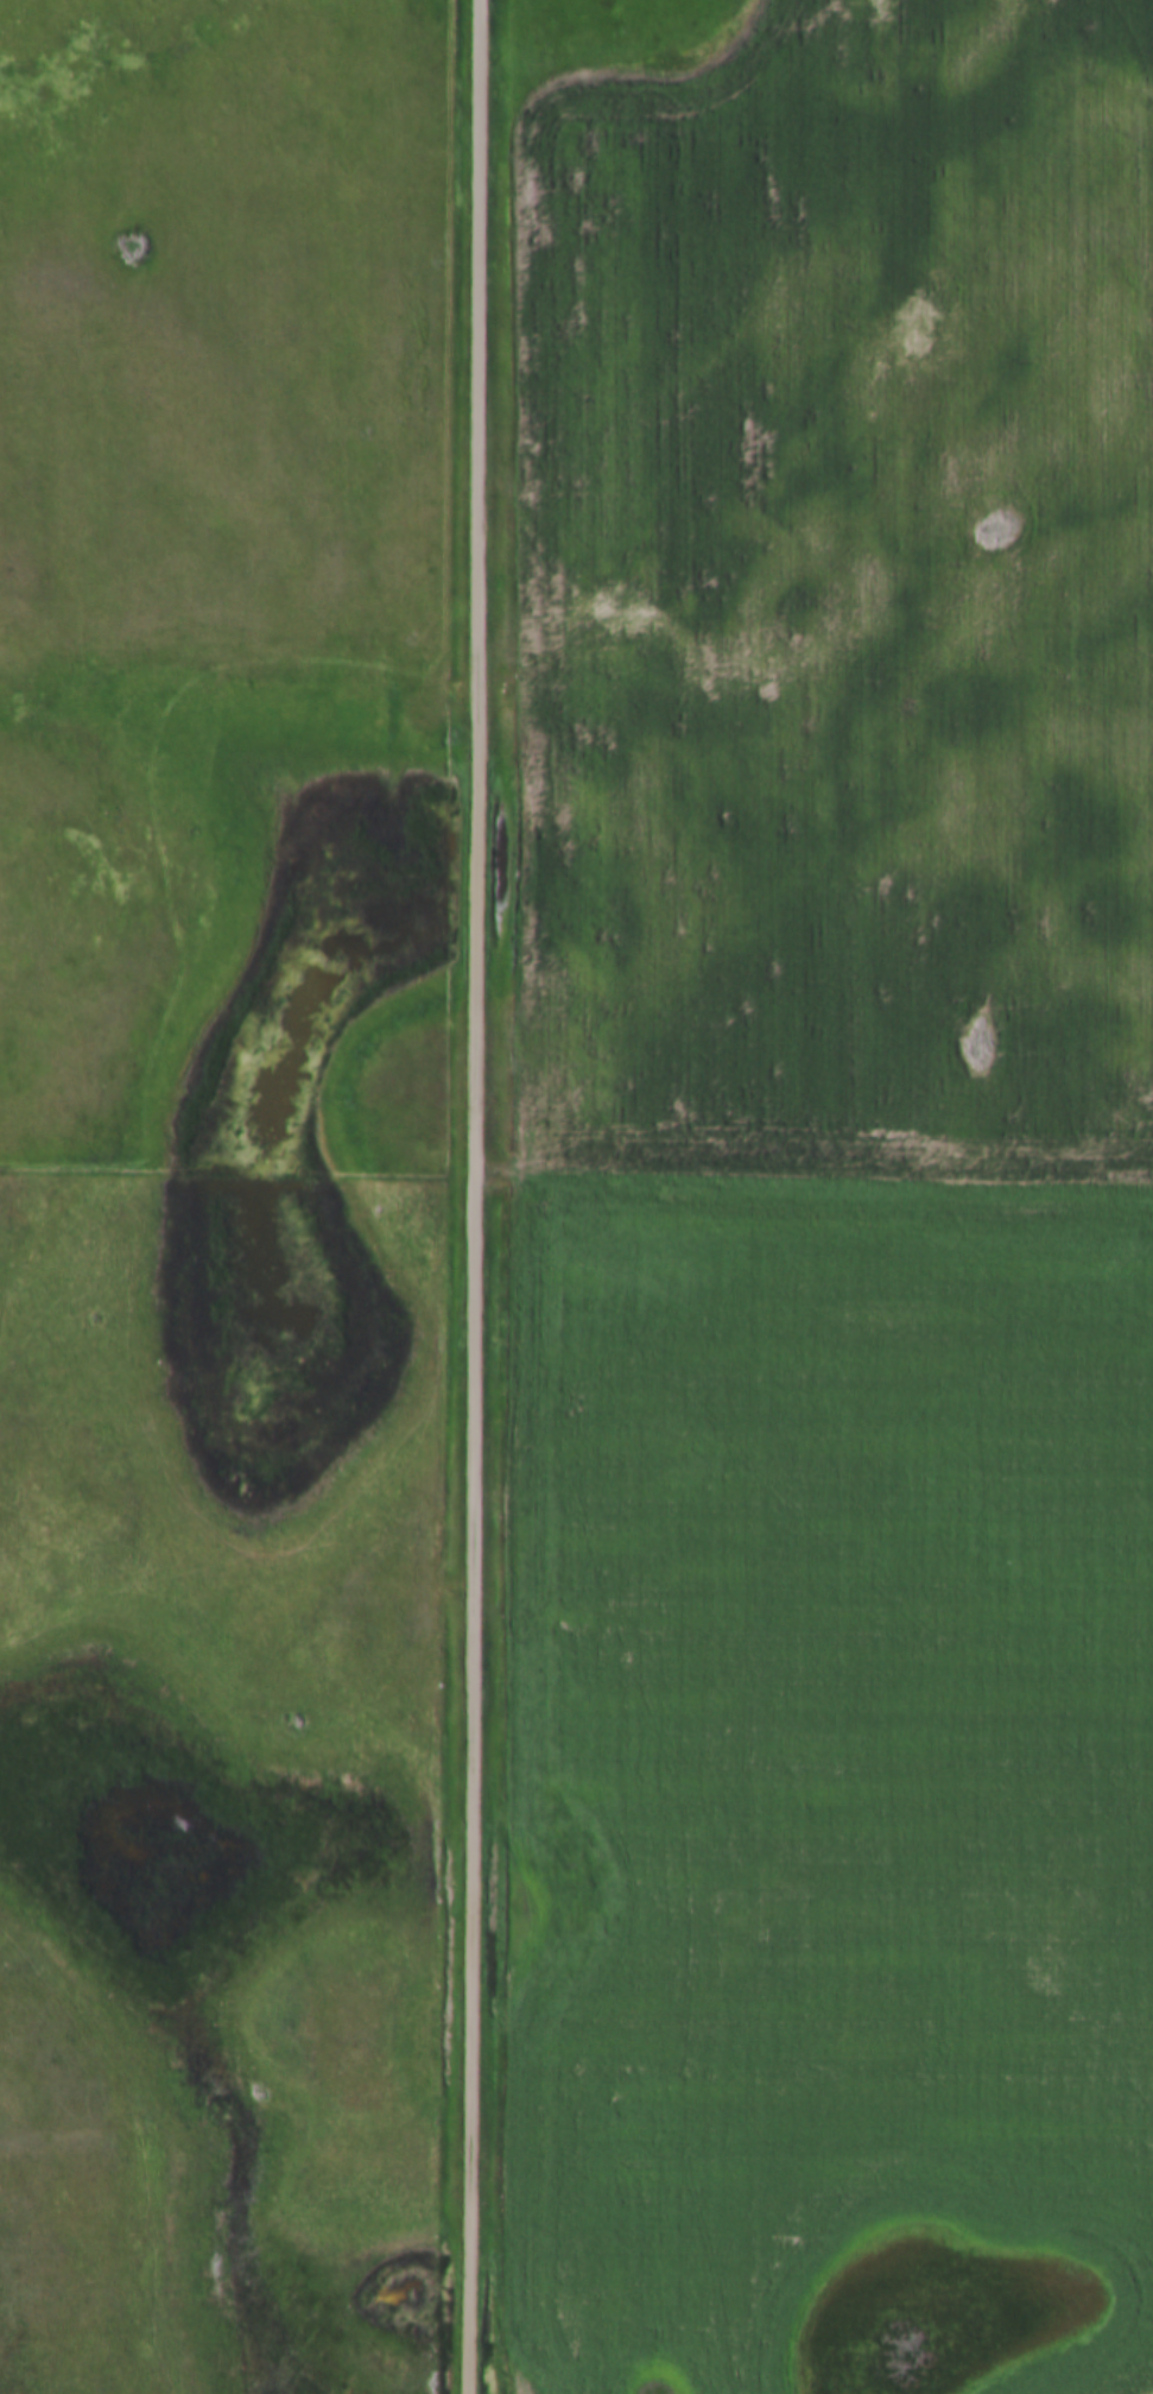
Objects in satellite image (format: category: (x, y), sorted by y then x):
road: (474, 1196)

